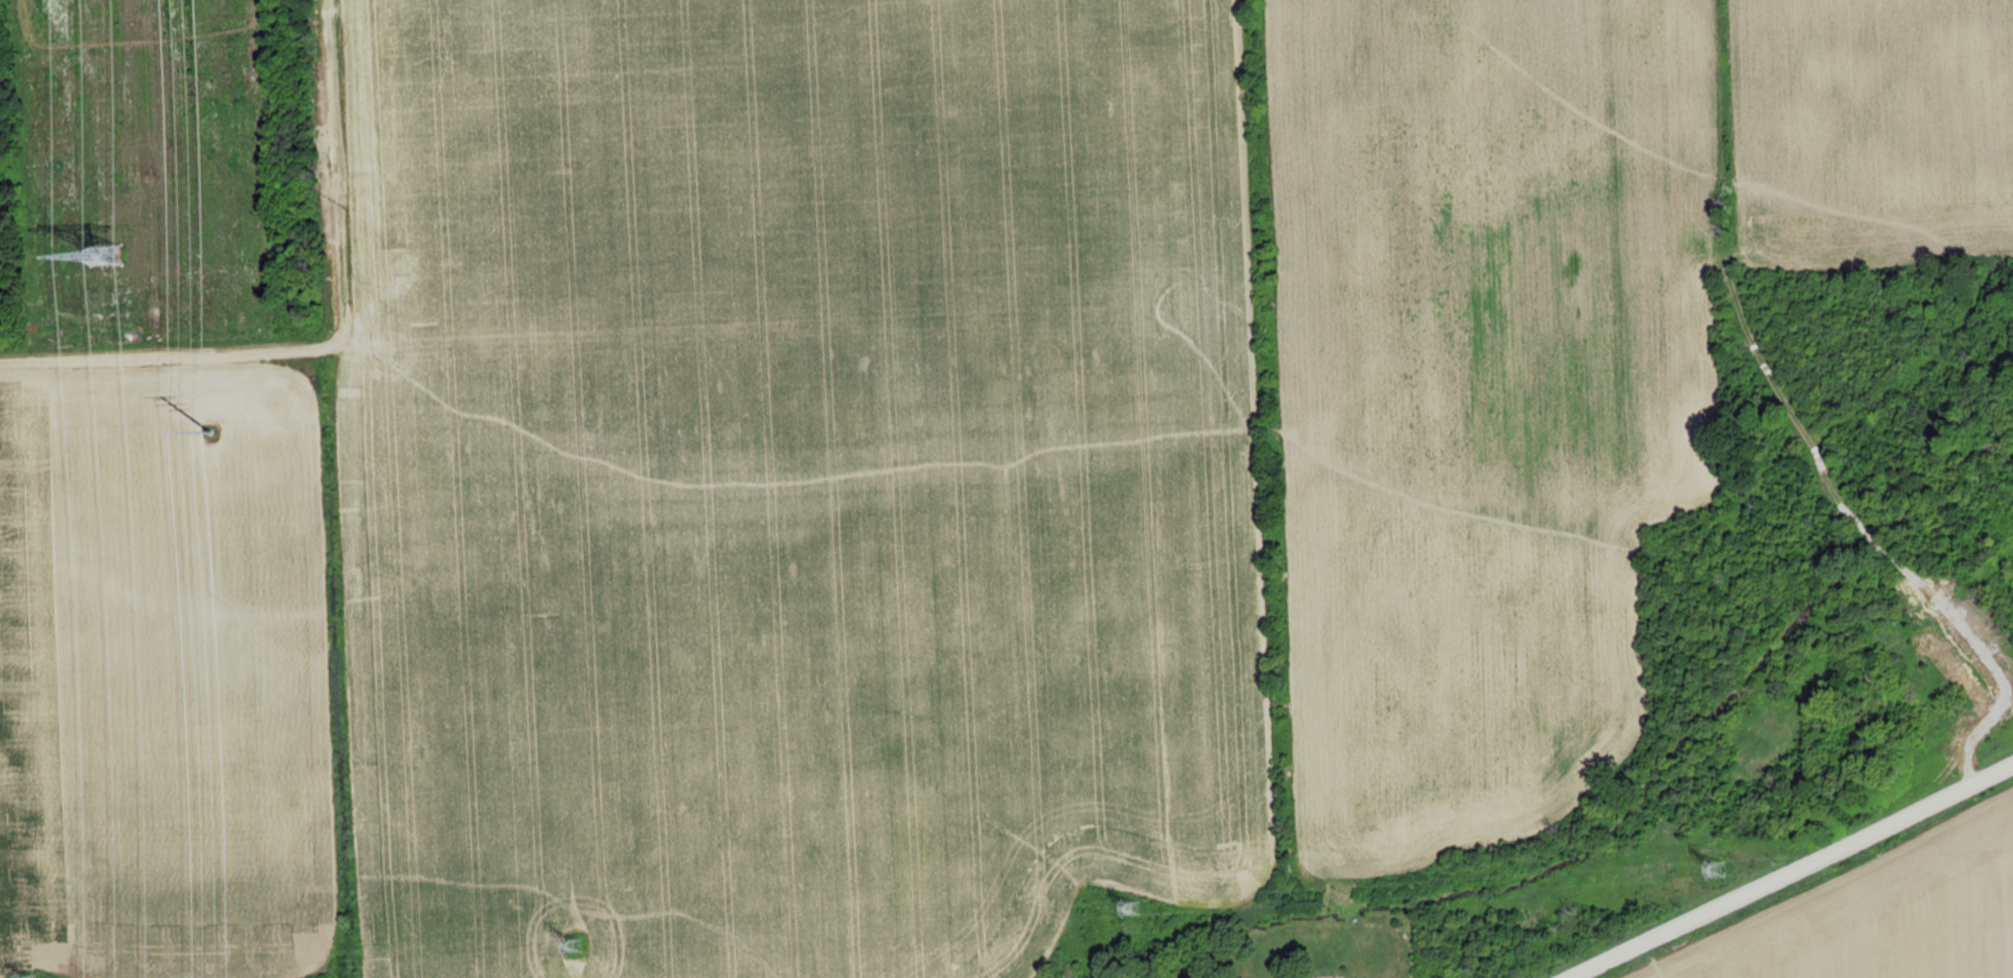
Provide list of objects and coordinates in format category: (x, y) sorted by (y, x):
power tower: (100, 269)
power tower: (227, 441)
power tower: (1719, 864)
road: (1798, 873)
power tower: (1131, 904)
power tower: (579, 944)
power tower: (35, 976)

